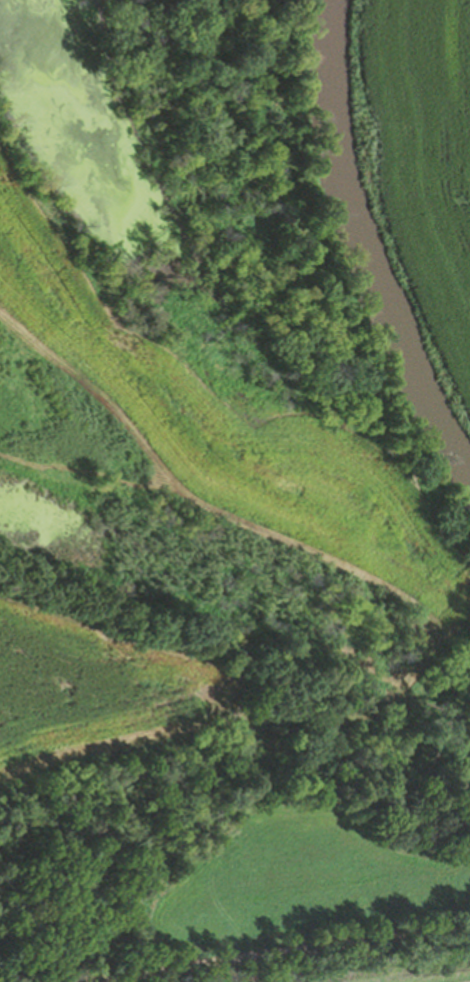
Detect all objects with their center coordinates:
river: (361, 246)
road: (273, 953)

